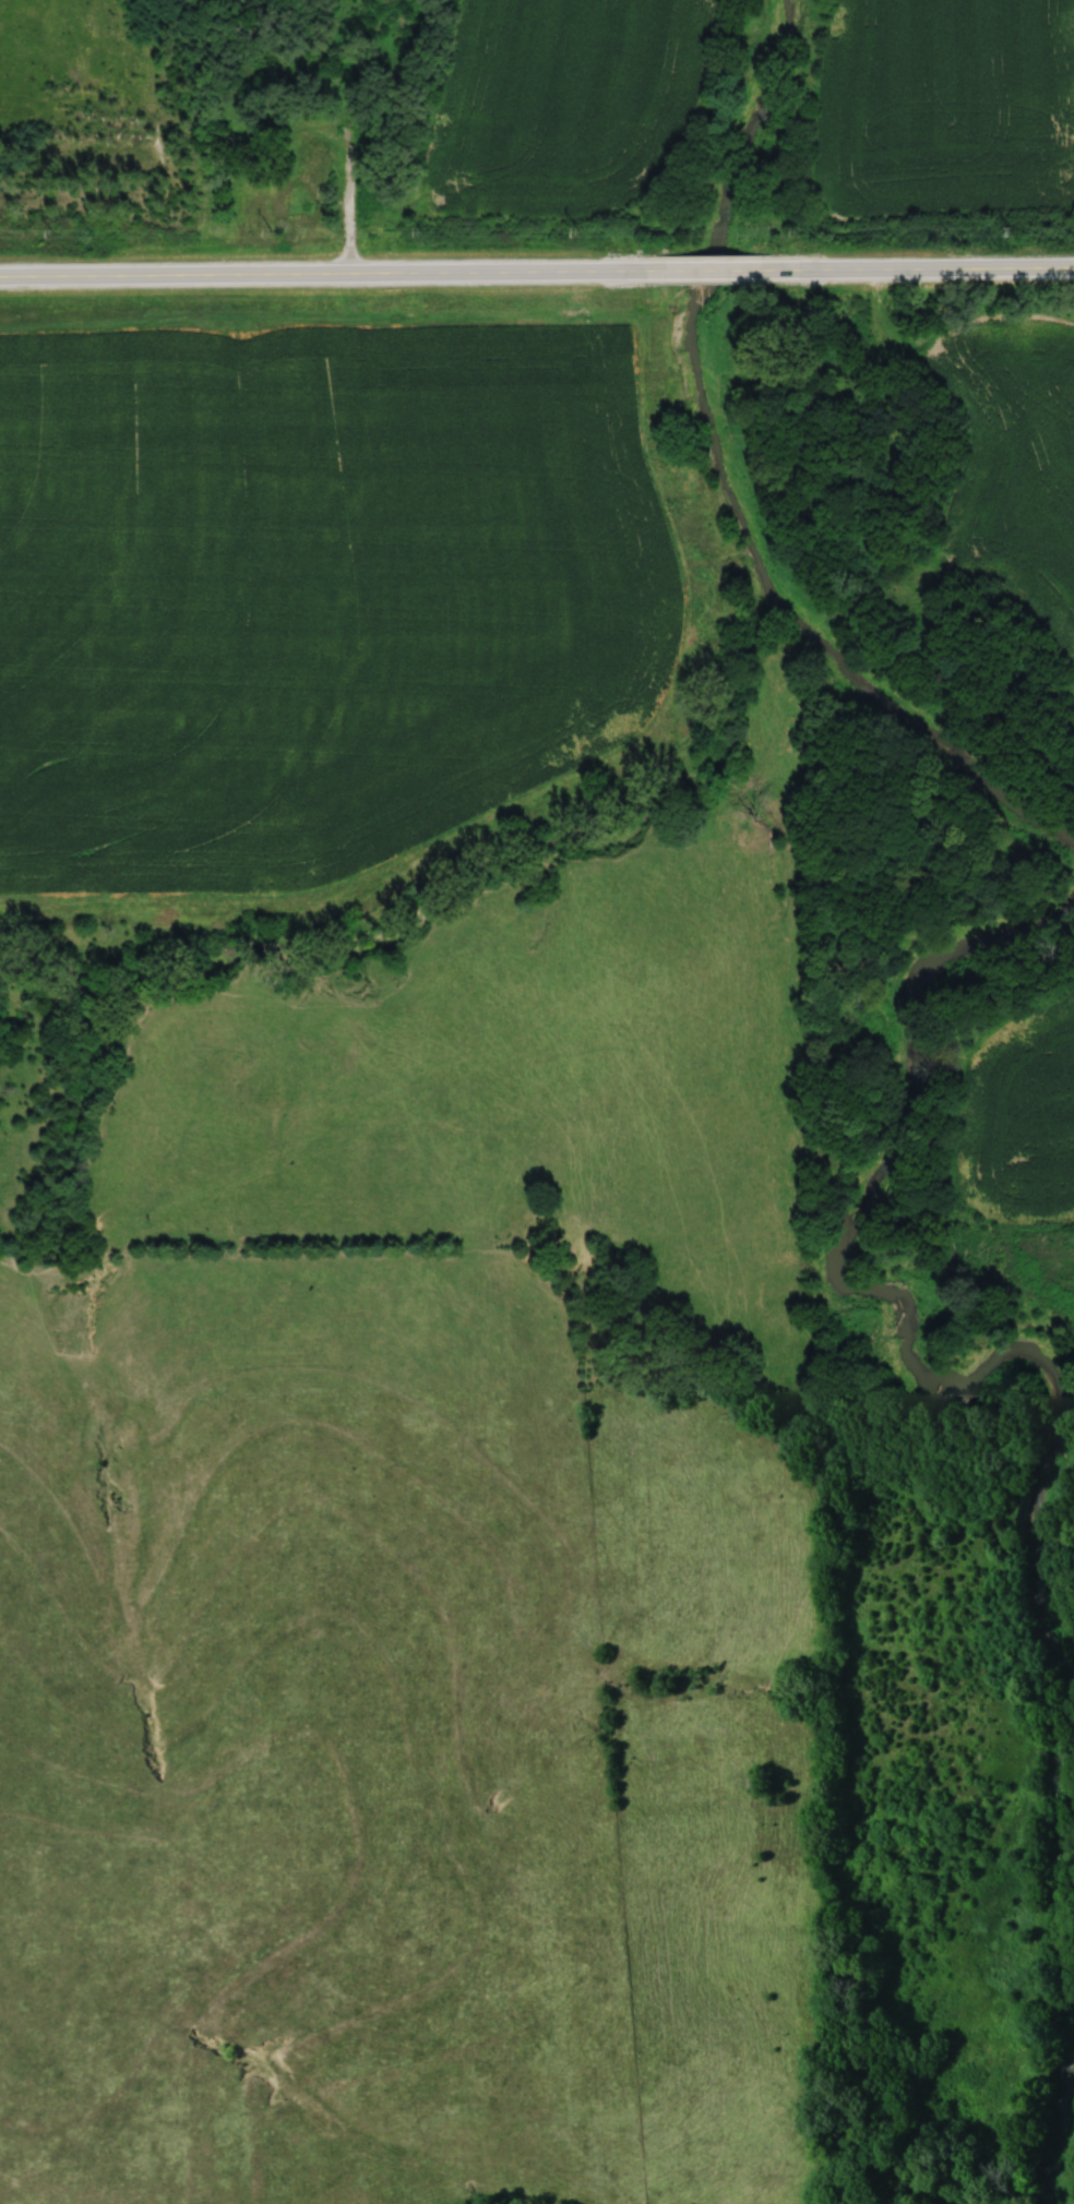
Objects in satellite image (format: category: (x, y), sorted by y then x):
building: (337, 62)
building: (295, 203)
road: (346, 203)
road: (934, 261)
road: (727, 262)
road: (330, 271)
river: (737, 480)
river: (909, 1281)
river: (1057, 2153)

